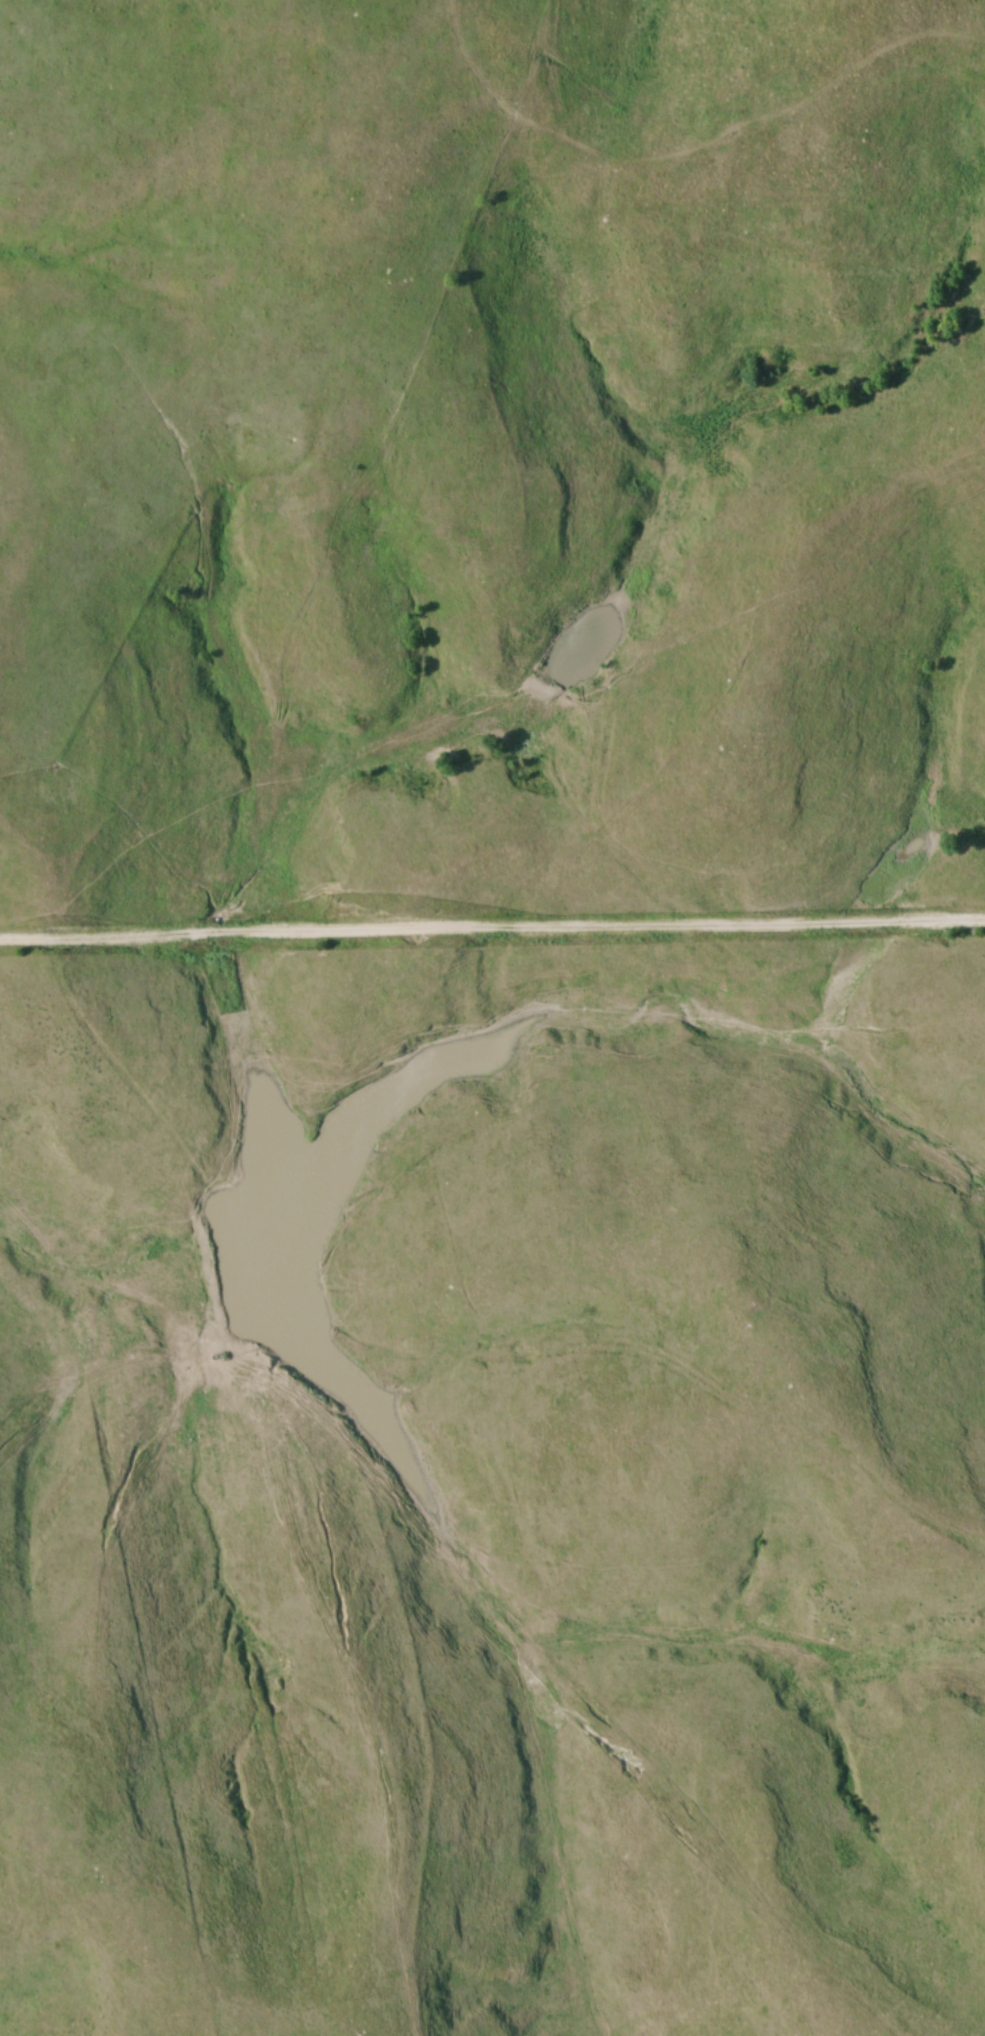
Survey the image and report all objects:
road: (492, 926)

